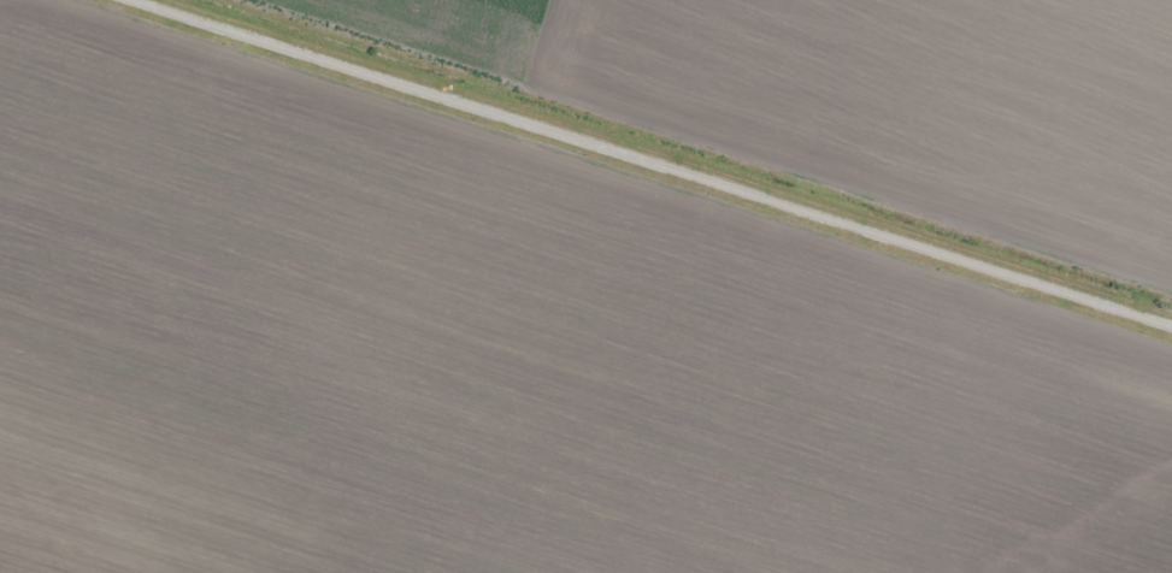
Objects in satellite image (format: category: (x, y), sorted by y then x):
road: (620, 187)

